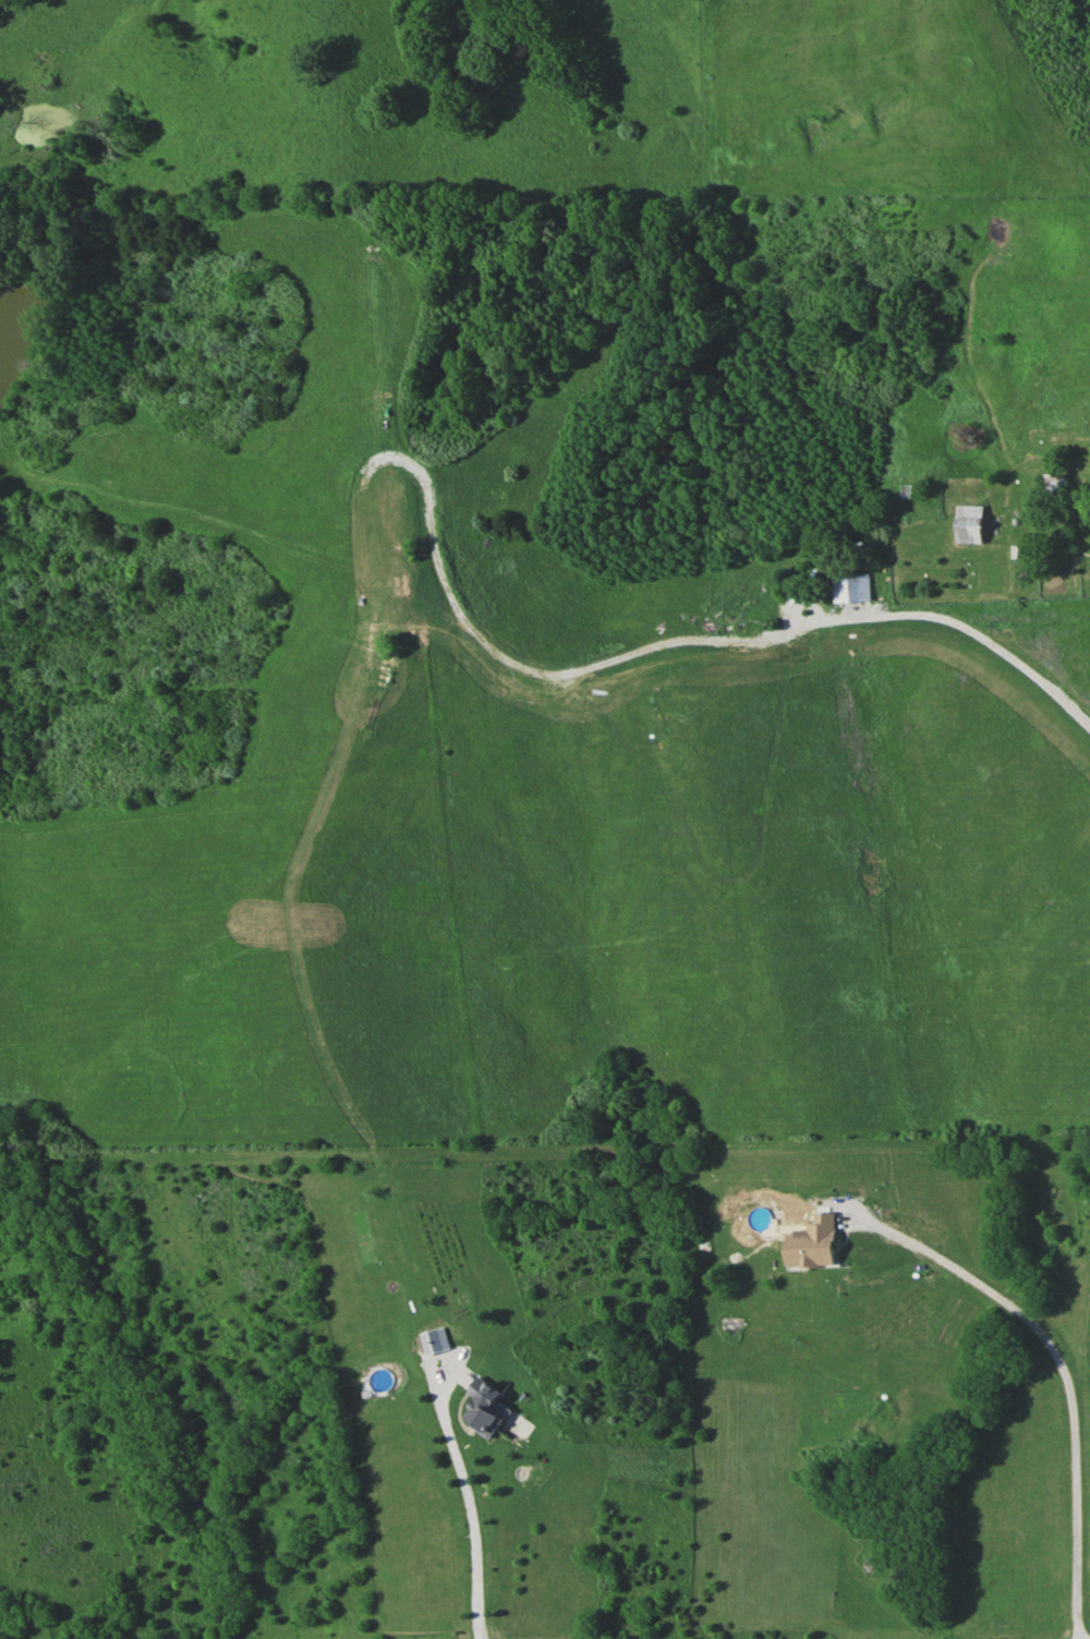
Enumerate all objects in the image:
building: (970, 523)
building: (849, 587)
road: (978, 638)
road: (545, 1150)
building: (810, 1243)
building: (434, 1340)
road: (1062, 1376)
building: (486, 1408)
road: (467, 1504)

